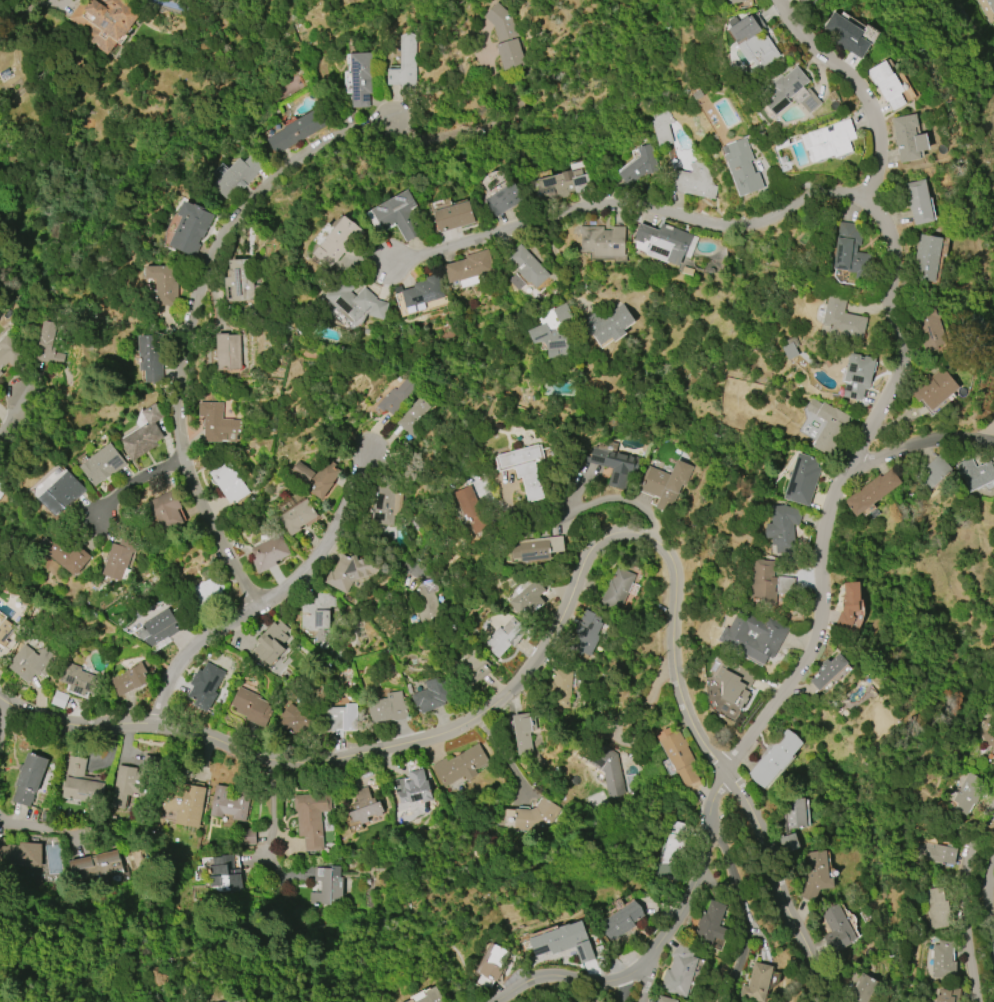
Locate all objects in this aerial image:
building: (735, 1)
building: (803, 1)
building: (987, 9)
building: (105, 22)
building: (846, 35)
building: (505, 38)
building: (752, 40)
building: (407, 65)
building: (365, 79)
building: (886, 85)
building: (785, 90)
building: (810, 101)
building: (662, 128)
building: (298, 132)
building: (908, 138)
building: (831, 140)
building: (639, 166)
building: (742, 168)
building: (239, 175)
building: (693, 181)
building: (560, 185)
building: (505, 199)
building: (918, 202)
road: (629, 204)
building: (396, 215)
building: (453, 217)
building: (190, 228)
building: (335, 241)
building: (603, 241)
building: (666, 242)
building: (850, 251)
building: (927, 258)
building: (527, 266)
building: (468, 269)
building: (237, 282)
building: (516, 282)
building: (162, 283)
building: (421, 294)
building: (353, 302)
building: (841, 319)
road: (188, 322)
building: (608, 324)
building: (929, 325)
building: (553, 331)
building: (47, 344)
building: (791, 349)
building: (230, 352)
building: (7, 353)
building: (153, 359)
building: (0, 374)
building: (858, 376)
building: (934, 389)
building: (399, 396)
building: (418, 415)
road: (14, 417)
building: (218, 422)
building: (828, 426)
building: (147, 433)
road: (373, 433)
road: (383, 443)
road: (915, 444)
building: (613, 463)
building: (107, 464)
building: (524, 468)
road: (843, 472)
building: (974, 474)
building: (930, 475)
building: (316, 478)
road: (134, 480)
building: (802, 480)
building: (228, 483)
building: (665, 484)
building: (2, 488)
building: (872, 492)
building: (68, 493)
road: (614, 499)
building: (387, 506)
building: (471, 509)
building: (166, 512)
building: (296, 516)
building: (782, 528)
building: (537, 548)
building: (270, 553)
building: (71, 556)
building: (121, 559)
building: (347, 574)
building: (768, 584)
building: (617, 588)
building: (208, 591)
road: (271, 598)
building: (528, 599)
building: (426, 601)
building: (848, 606)
building: (317, 614)
building: (157, 628)
building: (586, 634)
building: (503, 637)
building: (753, 637)
building: (6, 638)
building: (272, 643)
building: (33, 662)
building: (475, 669)
building: (828, 671)
building: (79, 680)
building: (129, 680)
building: (734, 681)
building: (206, 685)
building: (562, 687)
building: (431, 695)
building: (724, 703)
road: (490, 706)
building: (253, 708)
building: (388, 708)
building: (296, 719)
building: (340, 719)
road: (2, 726)
building: (524, 733)
building: (986, 743)
road: (125, 748)
building: (679, 756)
building: (771, 761)
building: (460, 766)
building: (606, 767)
building: (34, 779)
building: (139, 782)
building: (86, 783)
building: (413, 788)
building: (967, 793)
building: (188, 803)
building: (233, 804)
building: (365, 807)
road: (276, 811)
building: (793, 814)
building: (535, 817)
building: (312, 818)
road: (32, 828)
building: (23, 853)
building: (672, 853)
building: (935, 854)
building: (52, 860)
building: (104, 866)
building: (227, 873)
building: (815, 874)
building: (328, 884)
road: (774, 885)
road: (963, 902)
road: (987, 905)
building: (936, 908)
road: (744, 916)
building: (621, 921)
building: (710, 924)
building: (837, 930)
building: (563, 942)
building: (942, 960)
building: (494, 963)
building: (679, 971)
road: (647, 975)
road: (576, 979)
building: (757, 983)
building: (859, 988)
road: (621, 989)
building: (948, 995)
building: (428, 996)
building: (665, 999)
building: (235, 1001)

